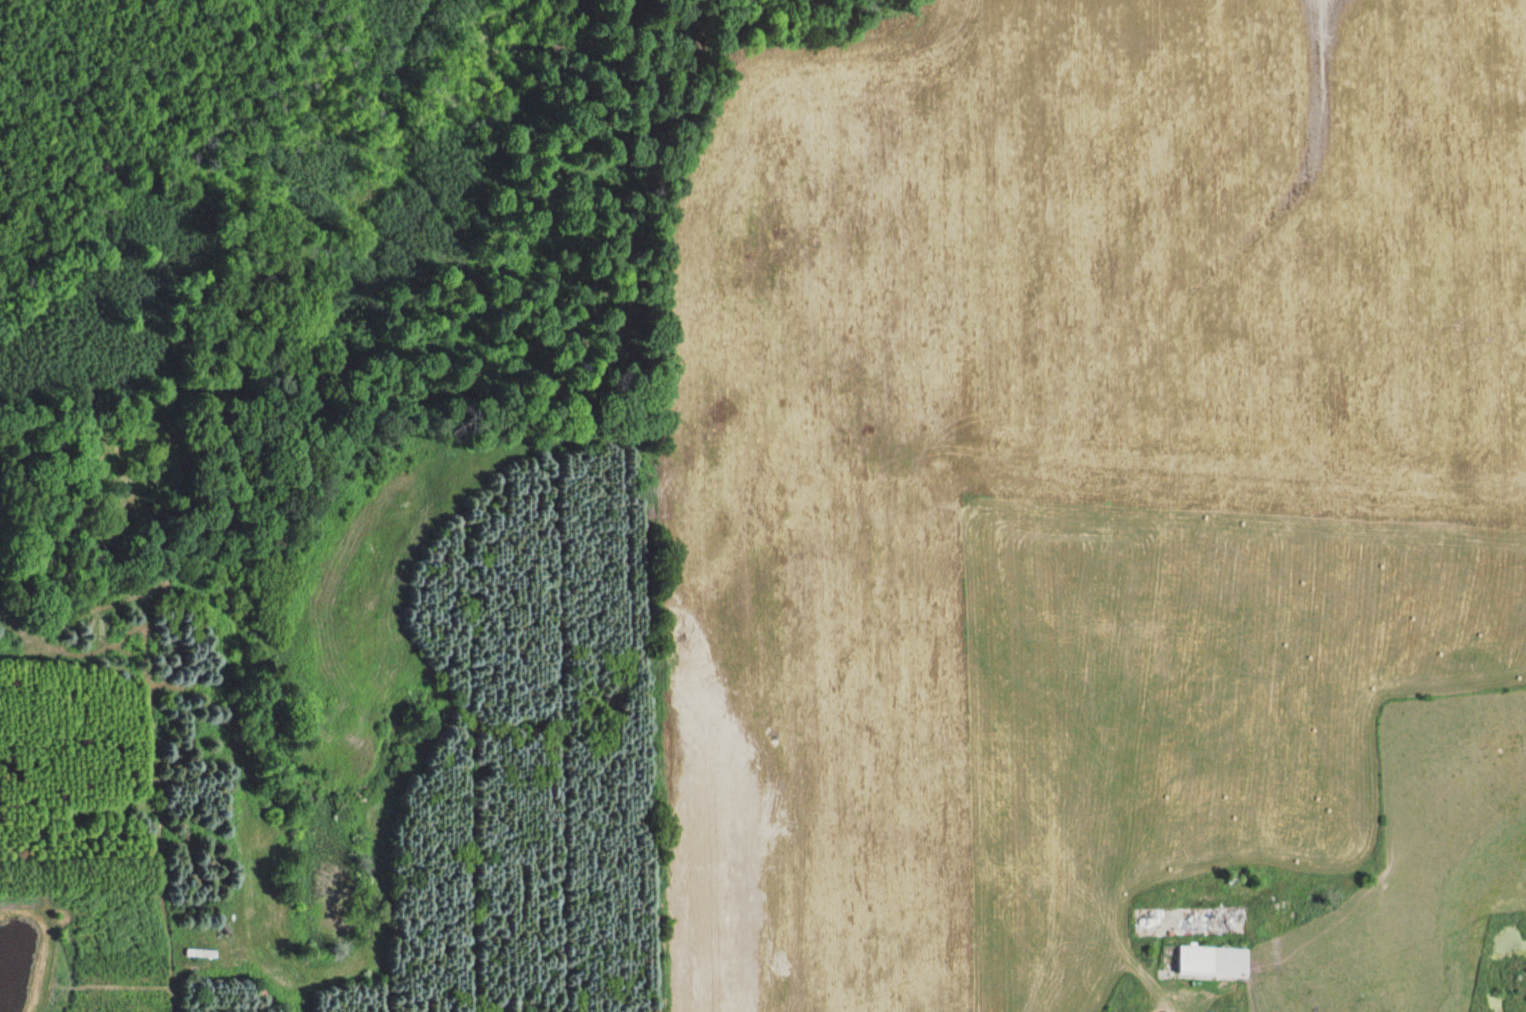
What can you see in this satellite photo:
building: (1213, 962)

